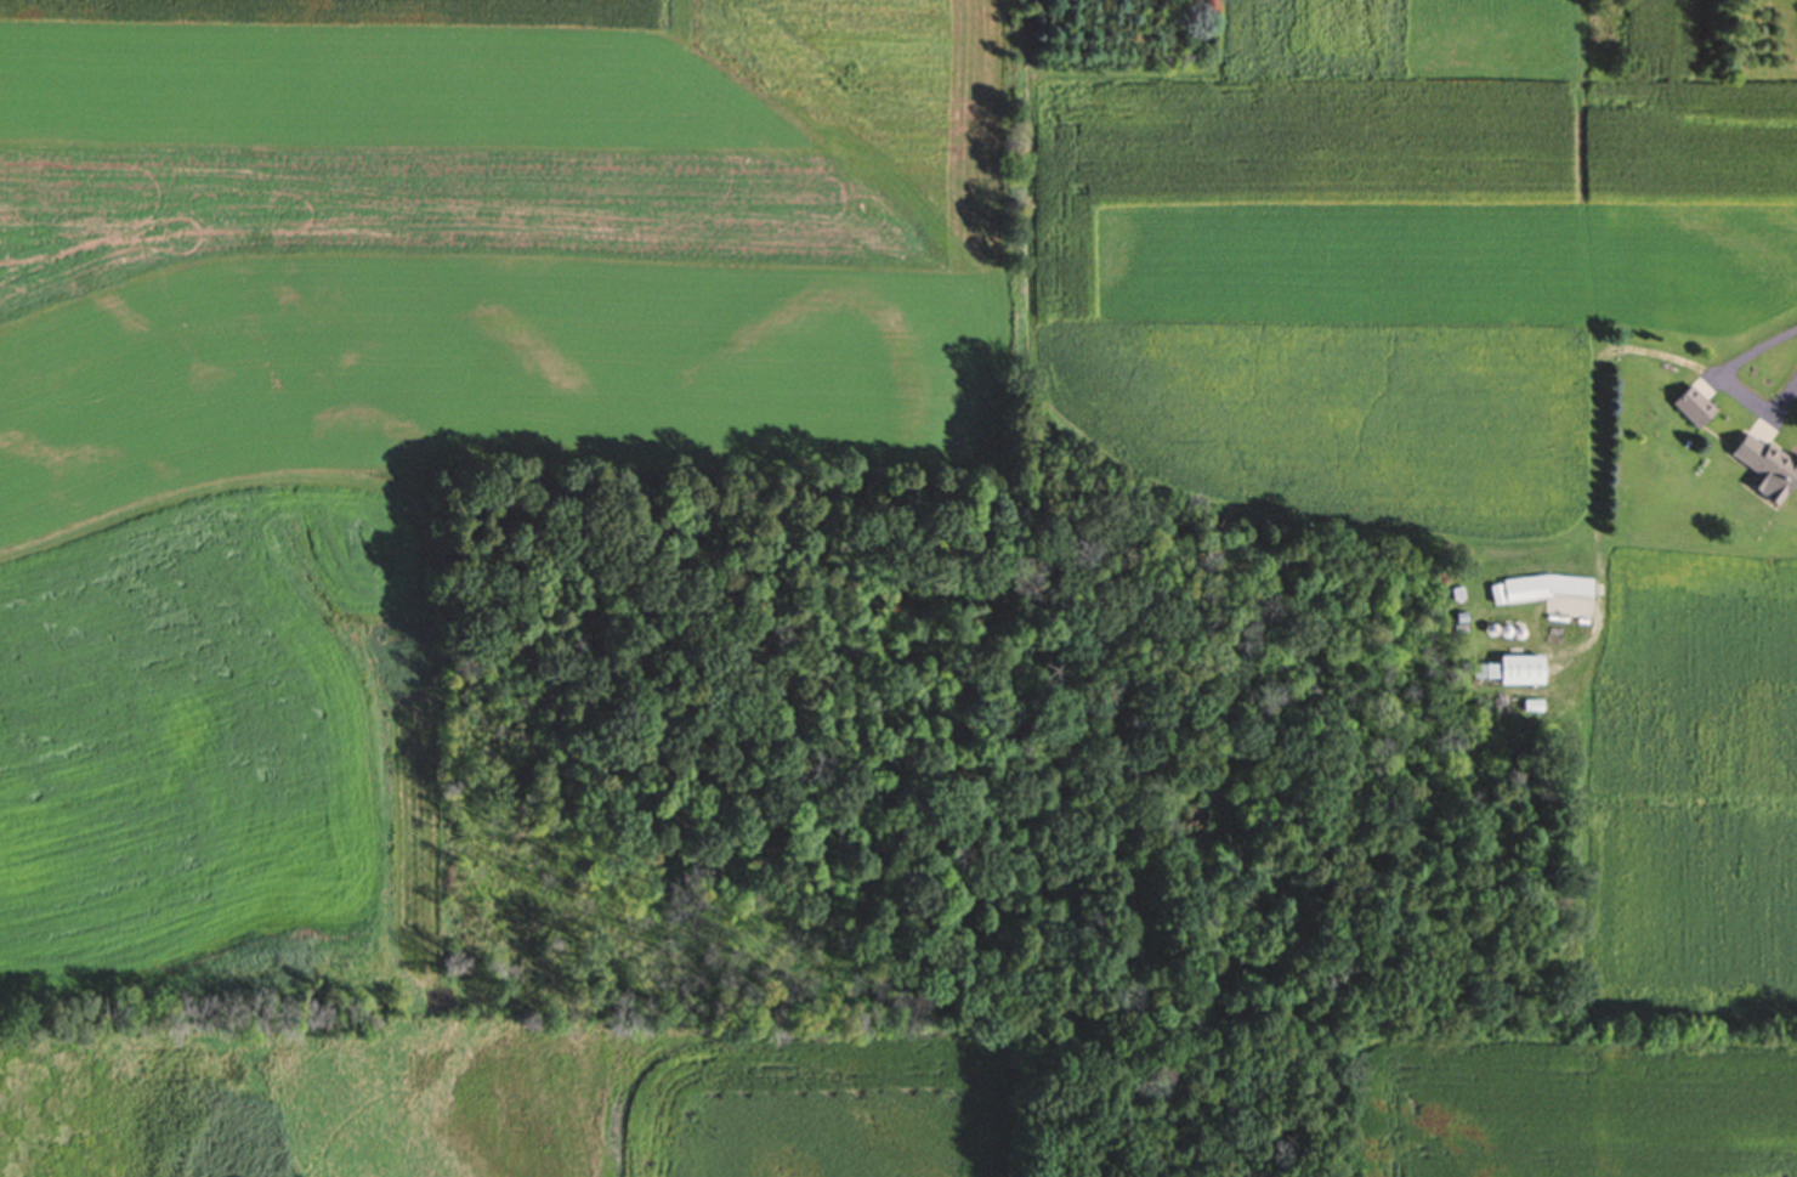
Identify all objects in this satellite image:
road: (1724, 378)
building: (1689, 409)
building: (1761, 469)
building: (1537, 592)
building: (1513, 673)

